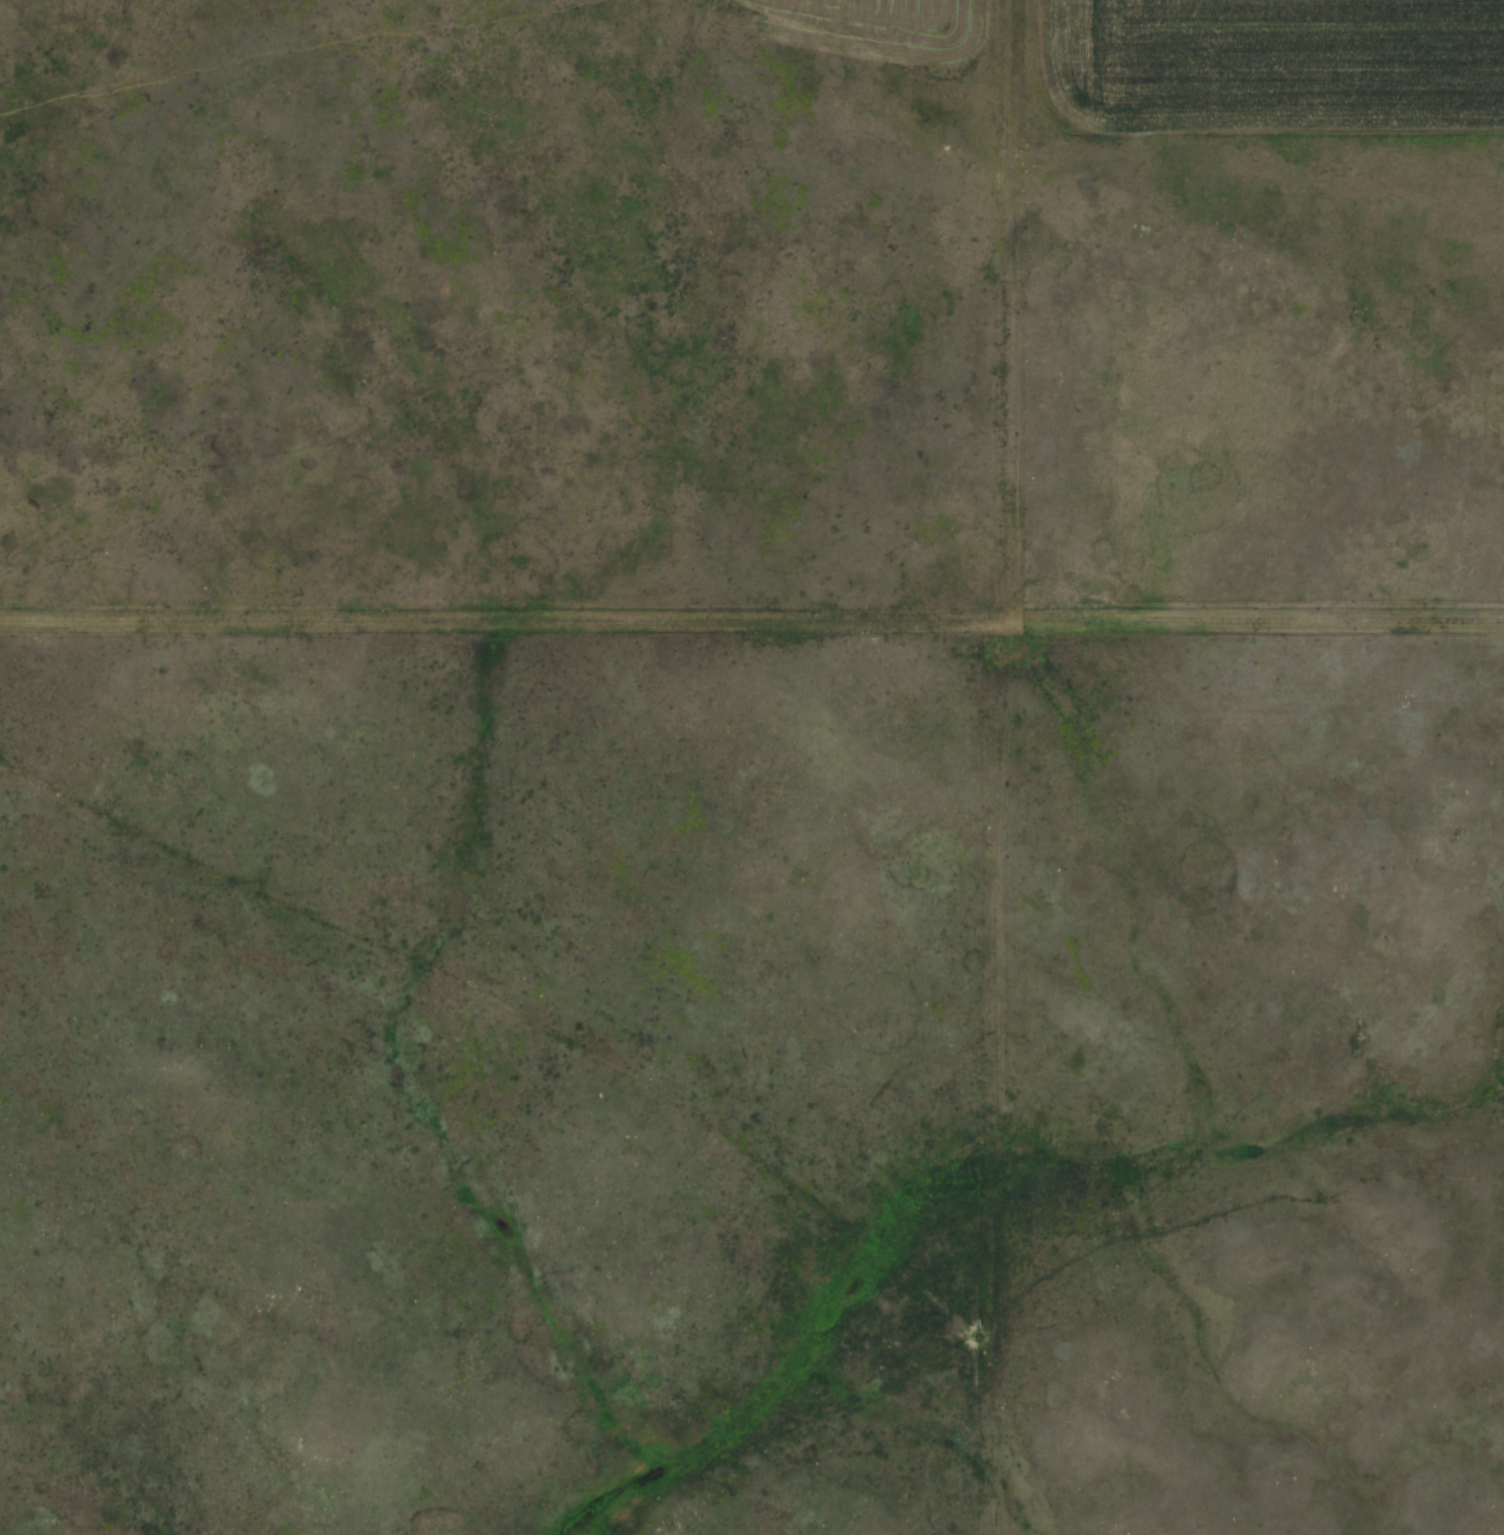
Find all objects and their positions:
road: (1003, 297)
road: (501, 598)

